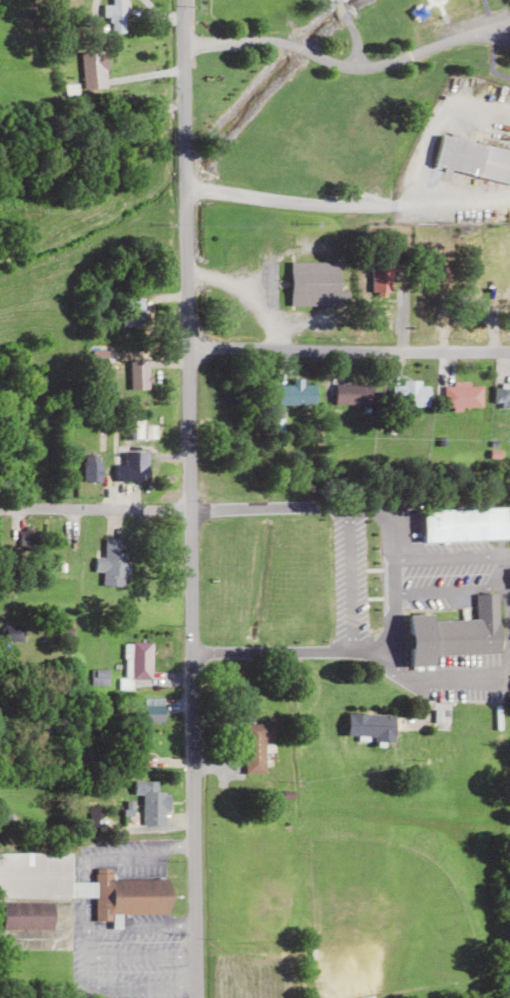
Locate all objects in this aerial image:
building: (116, 16)
road: (499, 42)
road: (346, 65)
building: (94, 69)
park: (327, 88)
building: (473, 157)
road: (327, 203)
building: (316, 283)
building: (132, 314)
road: (347, 348)
building: (138, 374)
building: (410, 393)
building: (296, 394)
building: (353, 394)
building: (501, 394)
building: (463, 395)
building: (133, 428)
building: (92, 470)
building: (140, 471)
road: (188, 499)
road: (94, 509)
building: (464, 524)
building: (29, 540)
building: (61, 545)
building: (112, 563)
building: (458, 633)
building: (136, 662)
building: (152, 709)
building: (371, 726)
building: (256, 746)
building: (152, 802)
building: (70, 890)

